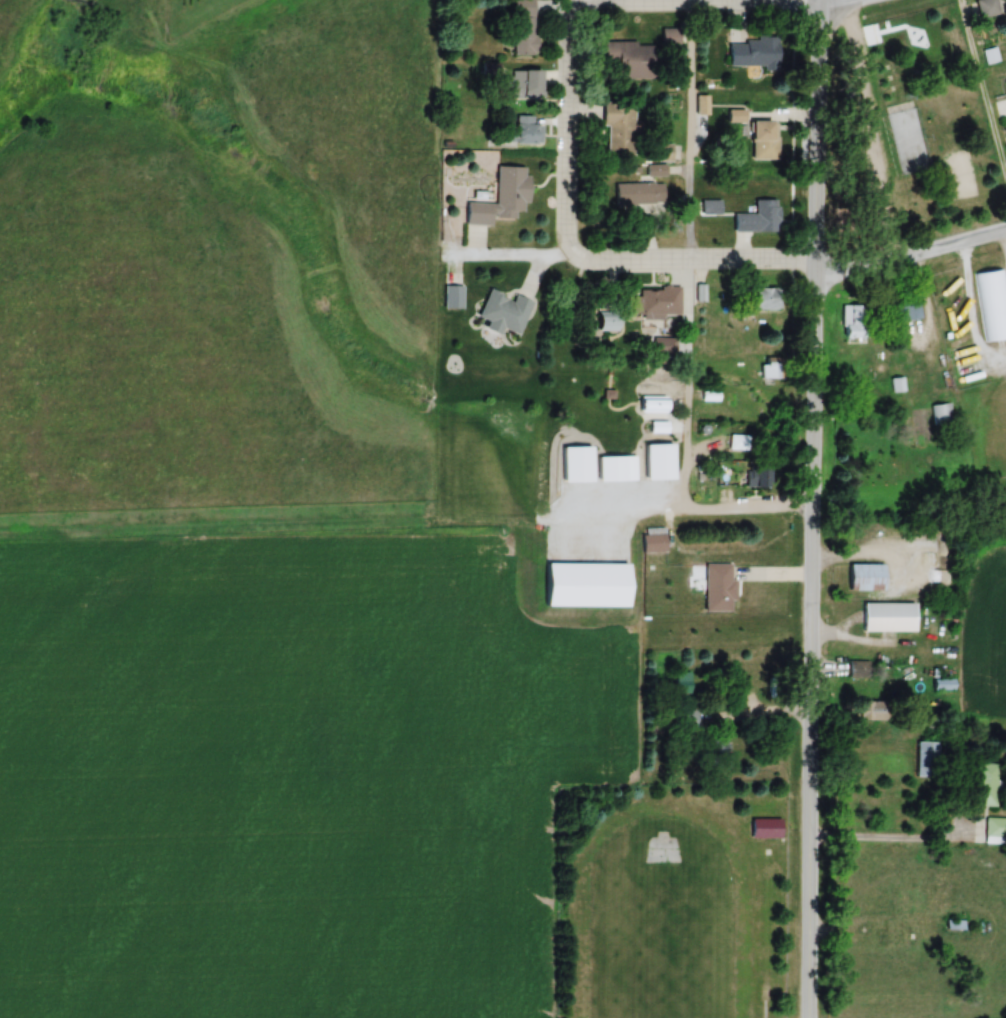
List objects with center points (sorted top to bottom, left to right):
road: (756, 0)
building: (987, 7)
building: (524, 27)
building: (669, 35)
building: (990, 54)
building: (756, 56)
building: (633, 58)
building: (520, 84)
road: (564, 127)
building: (618, 127)
building: (524, 129)
road: (690, 129)
road: (863, 135)
building: (907, 137)
building: (763, 139)
building: (765, 174)
building: (638, 192)
building: (501, 196)
building: (709, 206)
building: (756, 216)
road: (689, 257)
road: (912, 264)
building: (452, 295)
building: (760, 297)
building: (655, 300)
building: (993, 302)
building: (906, 304)
road: (962, 309)
building: (503, 310)
building: (851, 319)
building: (607, 322)
building: (941, 413)
building: (657, 426)
building: (658, 461)
building: (575, 463)
building: (615, 467)
road: (704, 508)
road: (810, 508)
building: (865, 576)
building: (718, 587)
building: (887, 615)
crop: (985, 624)
building: (872, 709)
building: (716, 753)
building: (926, 758)
building: (984, 785)
building: (765, 827)
road: (894, 841)
building: (885, 935)

